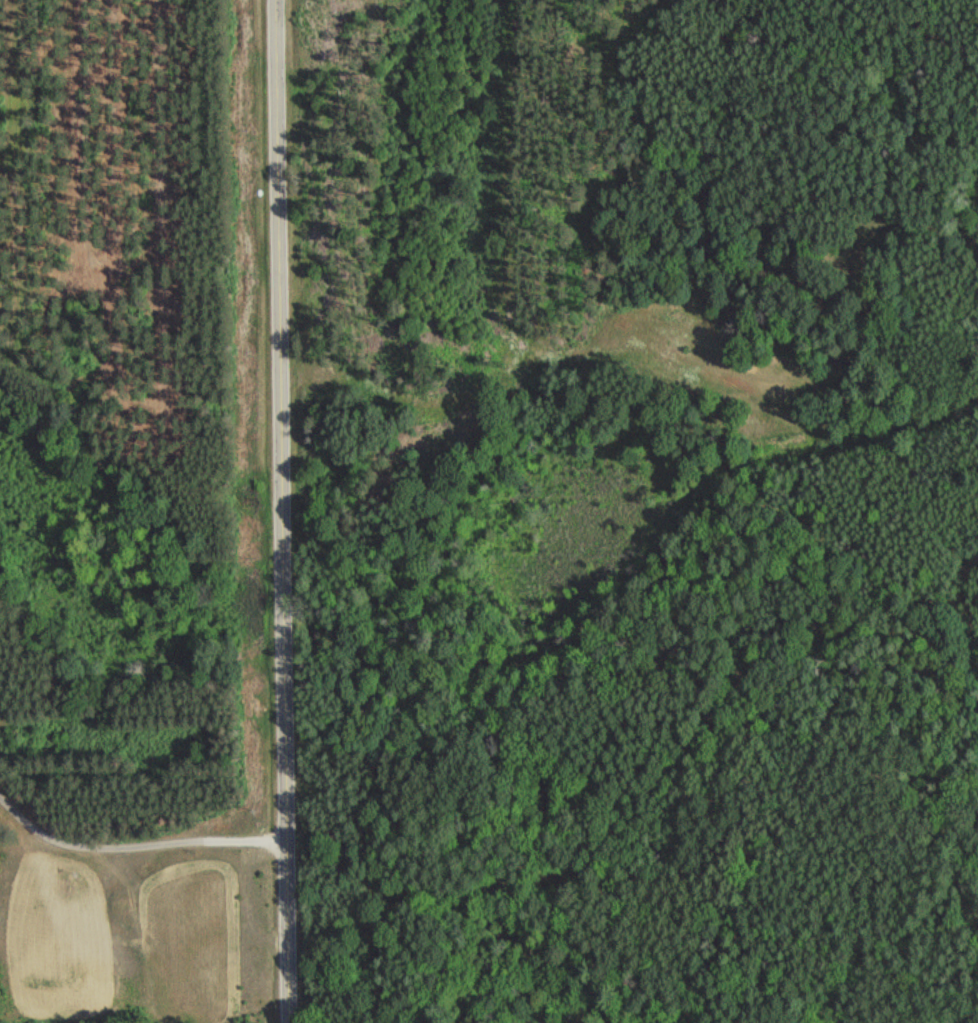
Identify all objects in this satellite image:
road: (287, 511)

